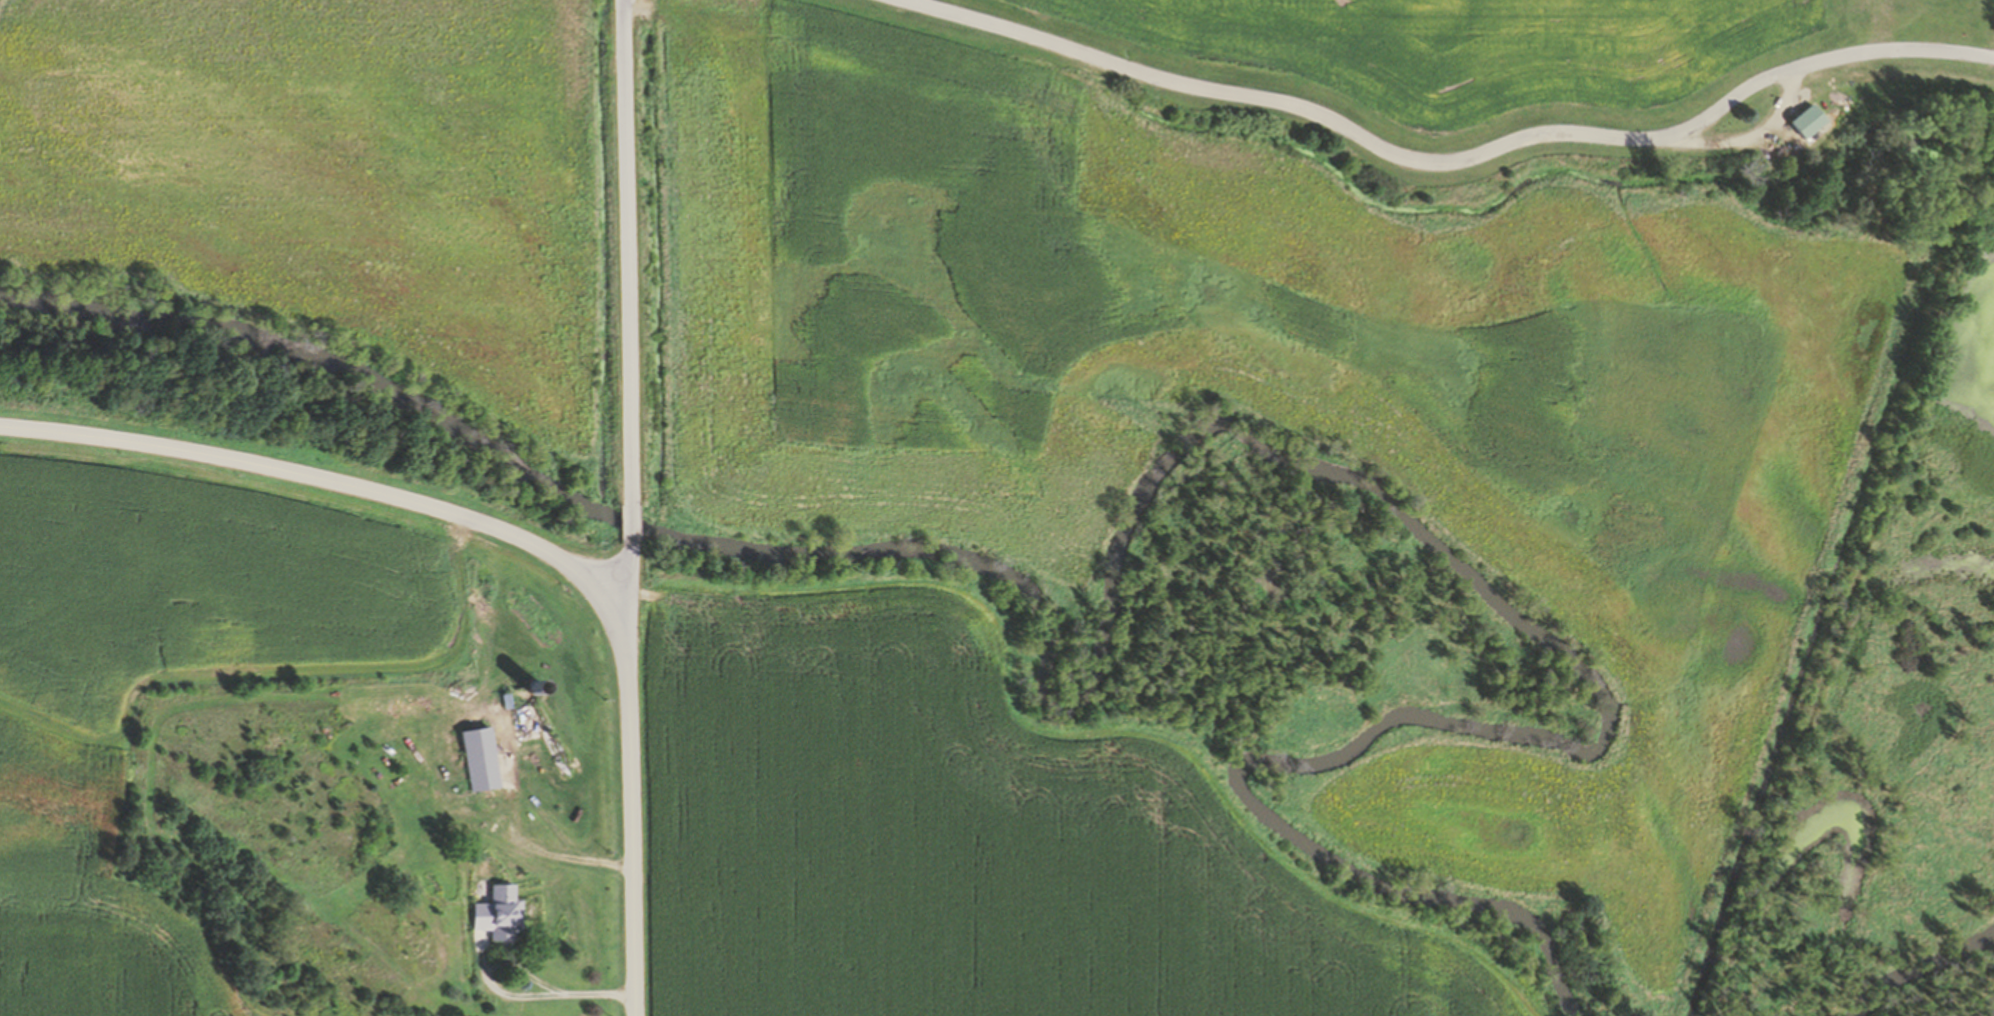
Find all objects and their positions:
building: (1800, 120)
road: (1759, 139)
road: (1424, 170)
park: (1864, 176)
road: (626, 243)
road: (305, 478)
road: (626, 528)
river: (1128, 553)
road: (623, 607)
road: (626, 800)
building: (505, 914)
river: (1928, 973)

